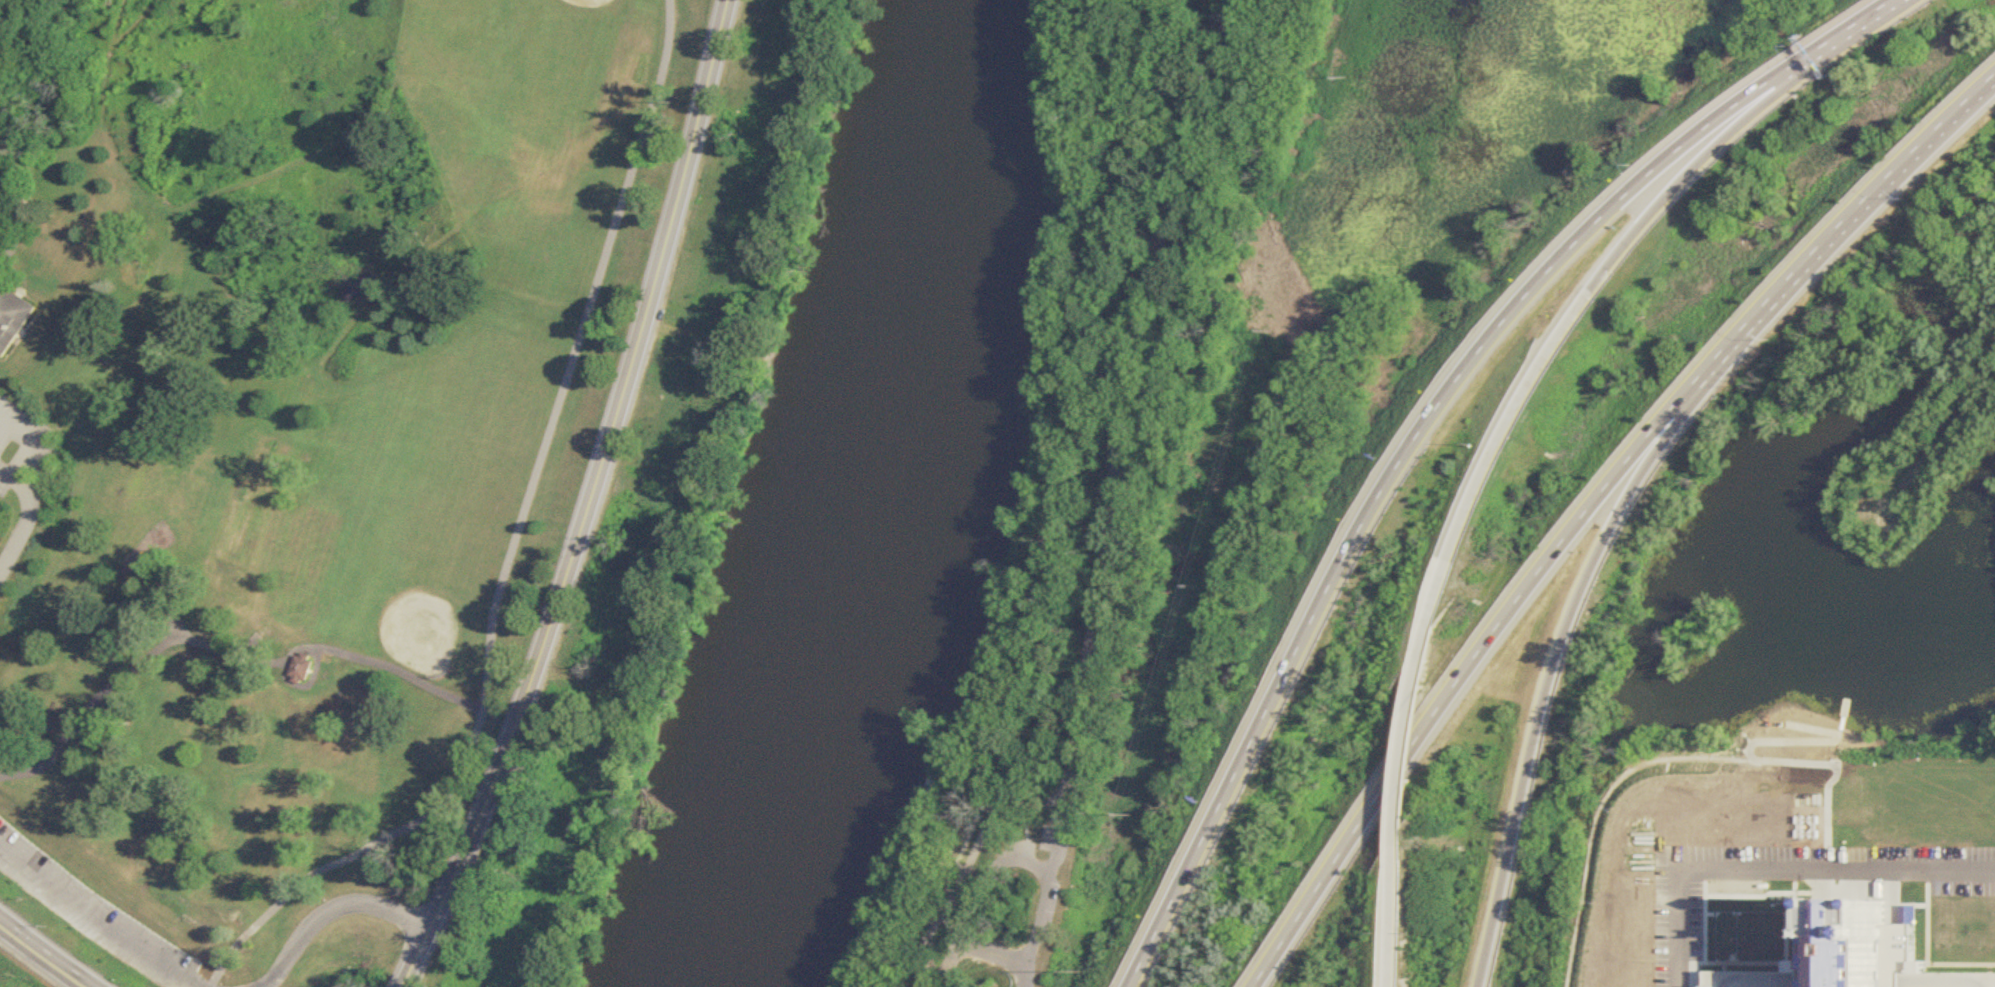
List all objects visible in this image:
park: (591, 3)
road: (136, 24)
road: (107, 61)
road: (291, 167)
road: (21, 180)
road: (408, 257)
road: (1585, 302)
building: (12, 318)
road: (347, 323)
road: (1134, 382)
road: (1430, 424)
road: (33, 442)
parking lot: (21, 444)
park: (303, 445)
road: (6, 471)
road: (594, 502)
road: (1594, 504)
river: (894, 505)
road: (27, 525)
road: (510, 548)
road: (164, 602)
park: (419, 633)
road: (1555, 664)
road: (385, 667)
road: (134, 669)
building: (300, 669)
road: (1412, 739)
road: (1066, 821)
road: (976, 859)
road: (1840, 874)
road: (986, 897)
road: (329, 909)
parking lot: (91, 912)
road: (1399, 912)
road: (92, 917)
road: (1045, 928)
road: (1684, 931)
building: (1872, 951)
road: (53, 953)
road: (194, 985)

